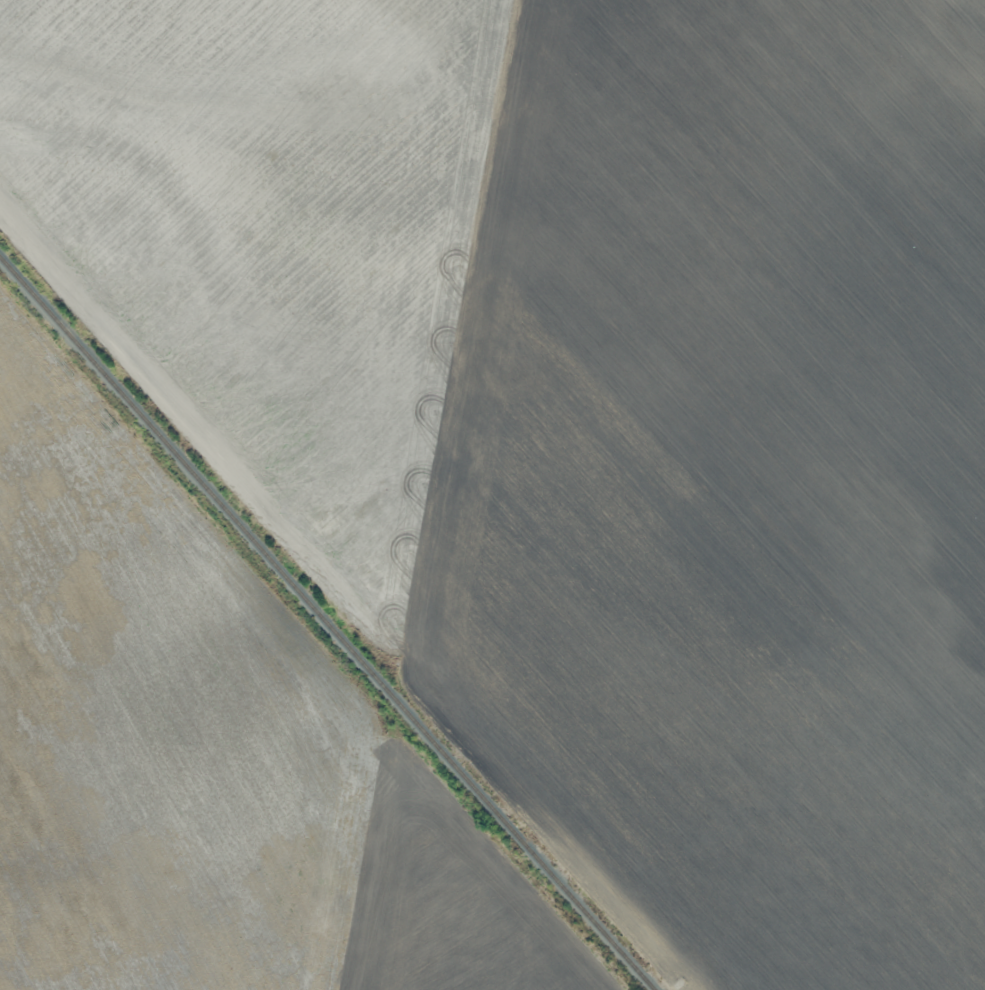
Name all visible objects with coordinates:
railway: (325, 625)

